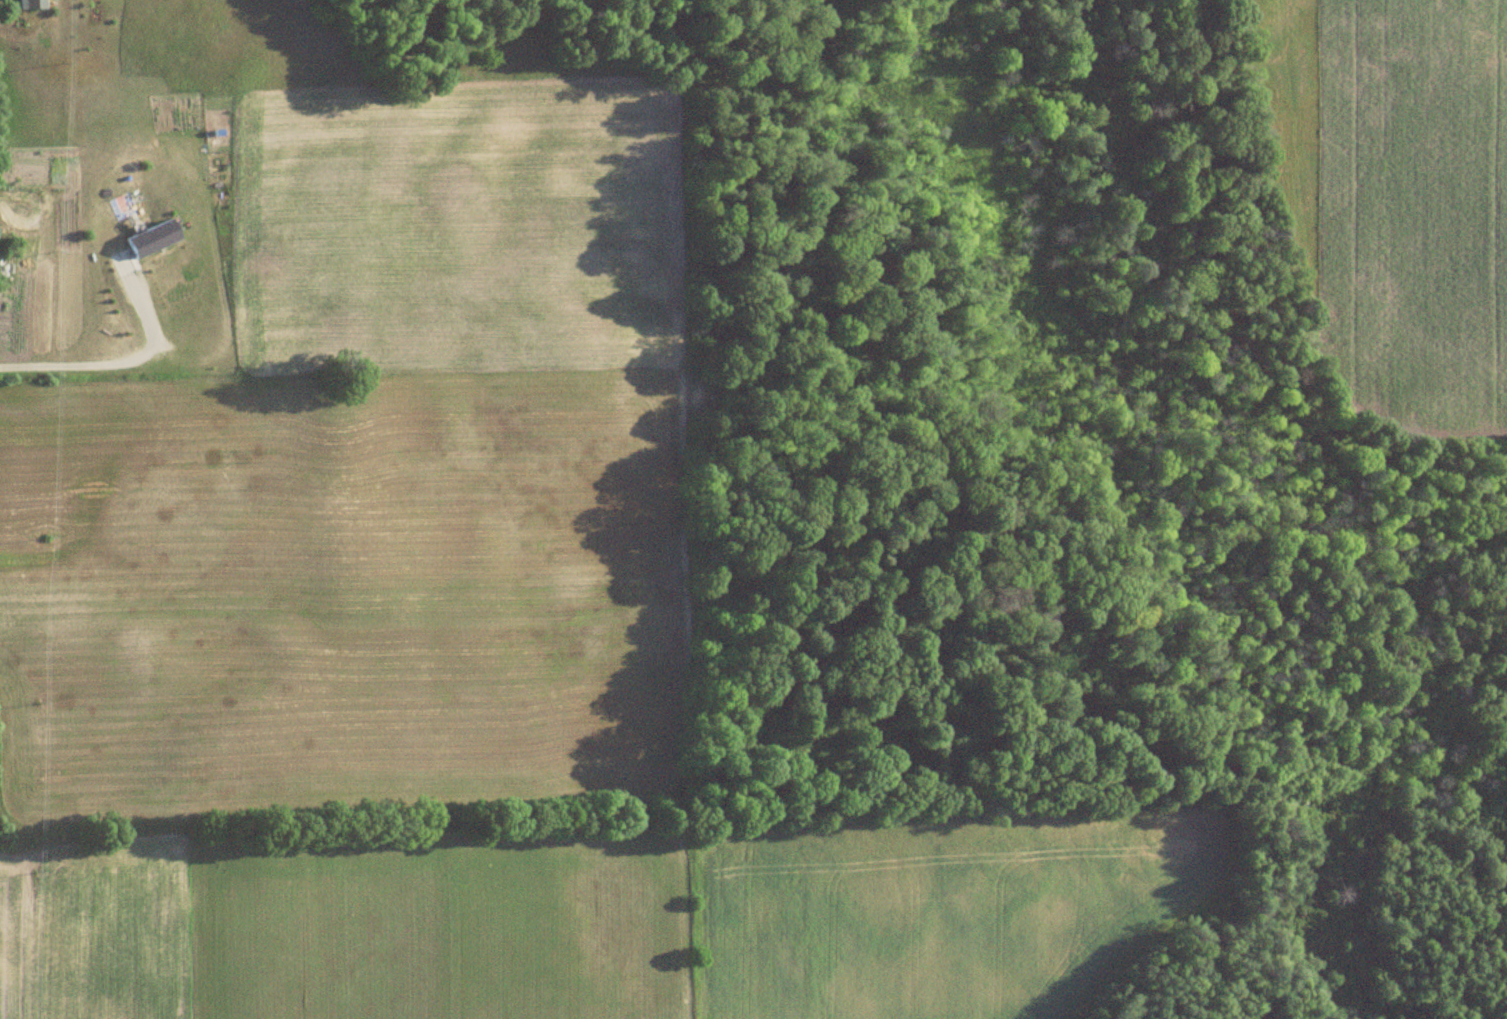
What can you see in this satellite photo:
building: (30, 5)
building: (155, 238)

